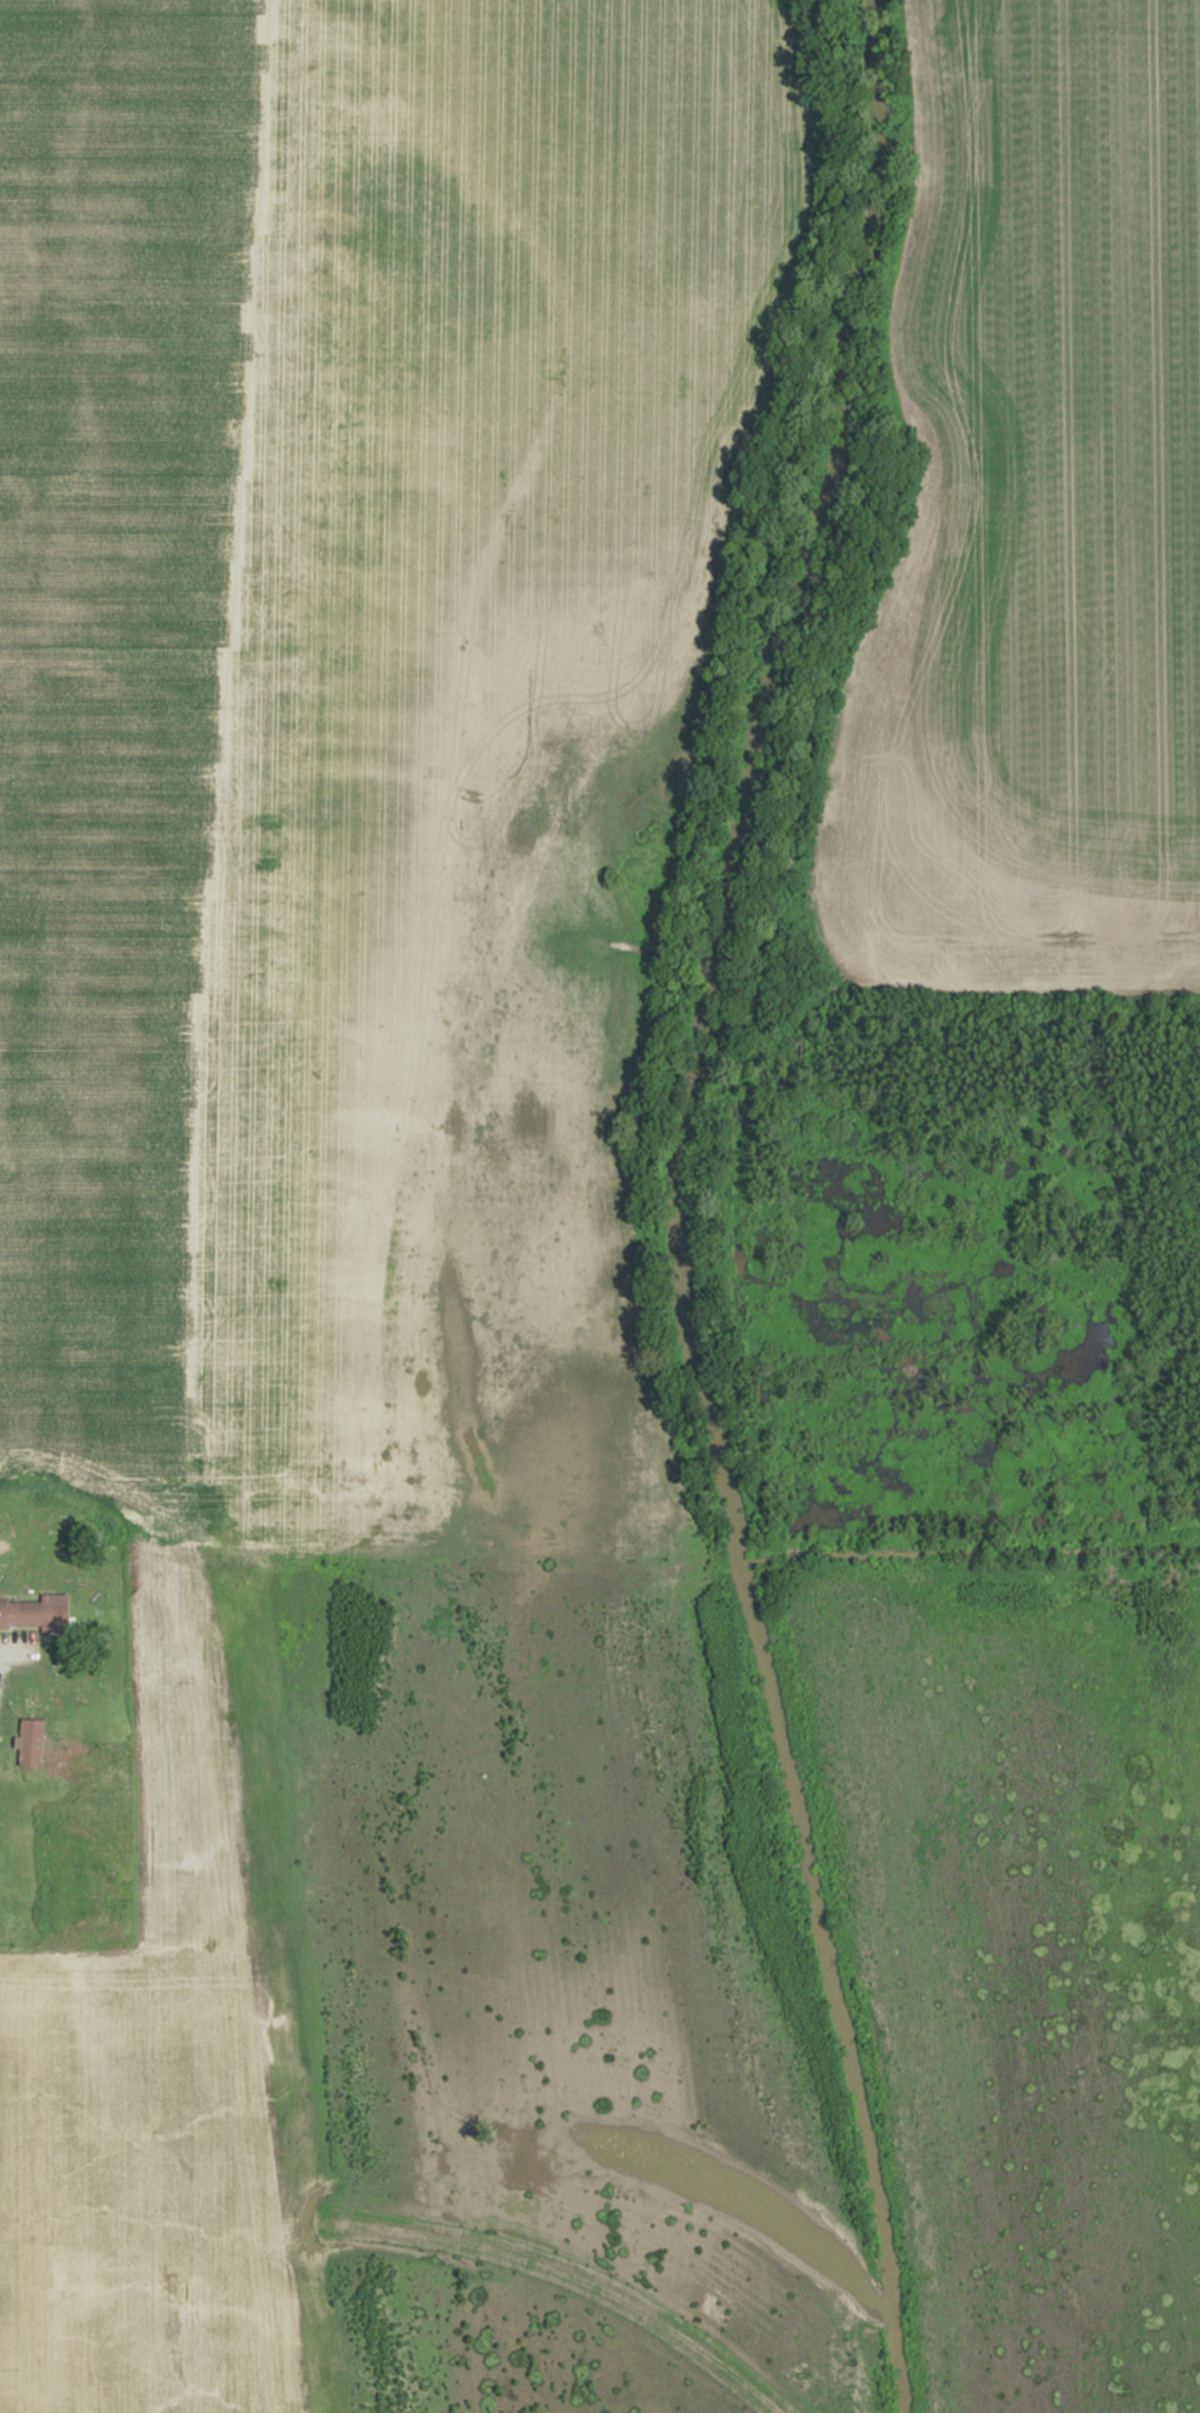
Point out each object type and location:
building: (38, 1613)

